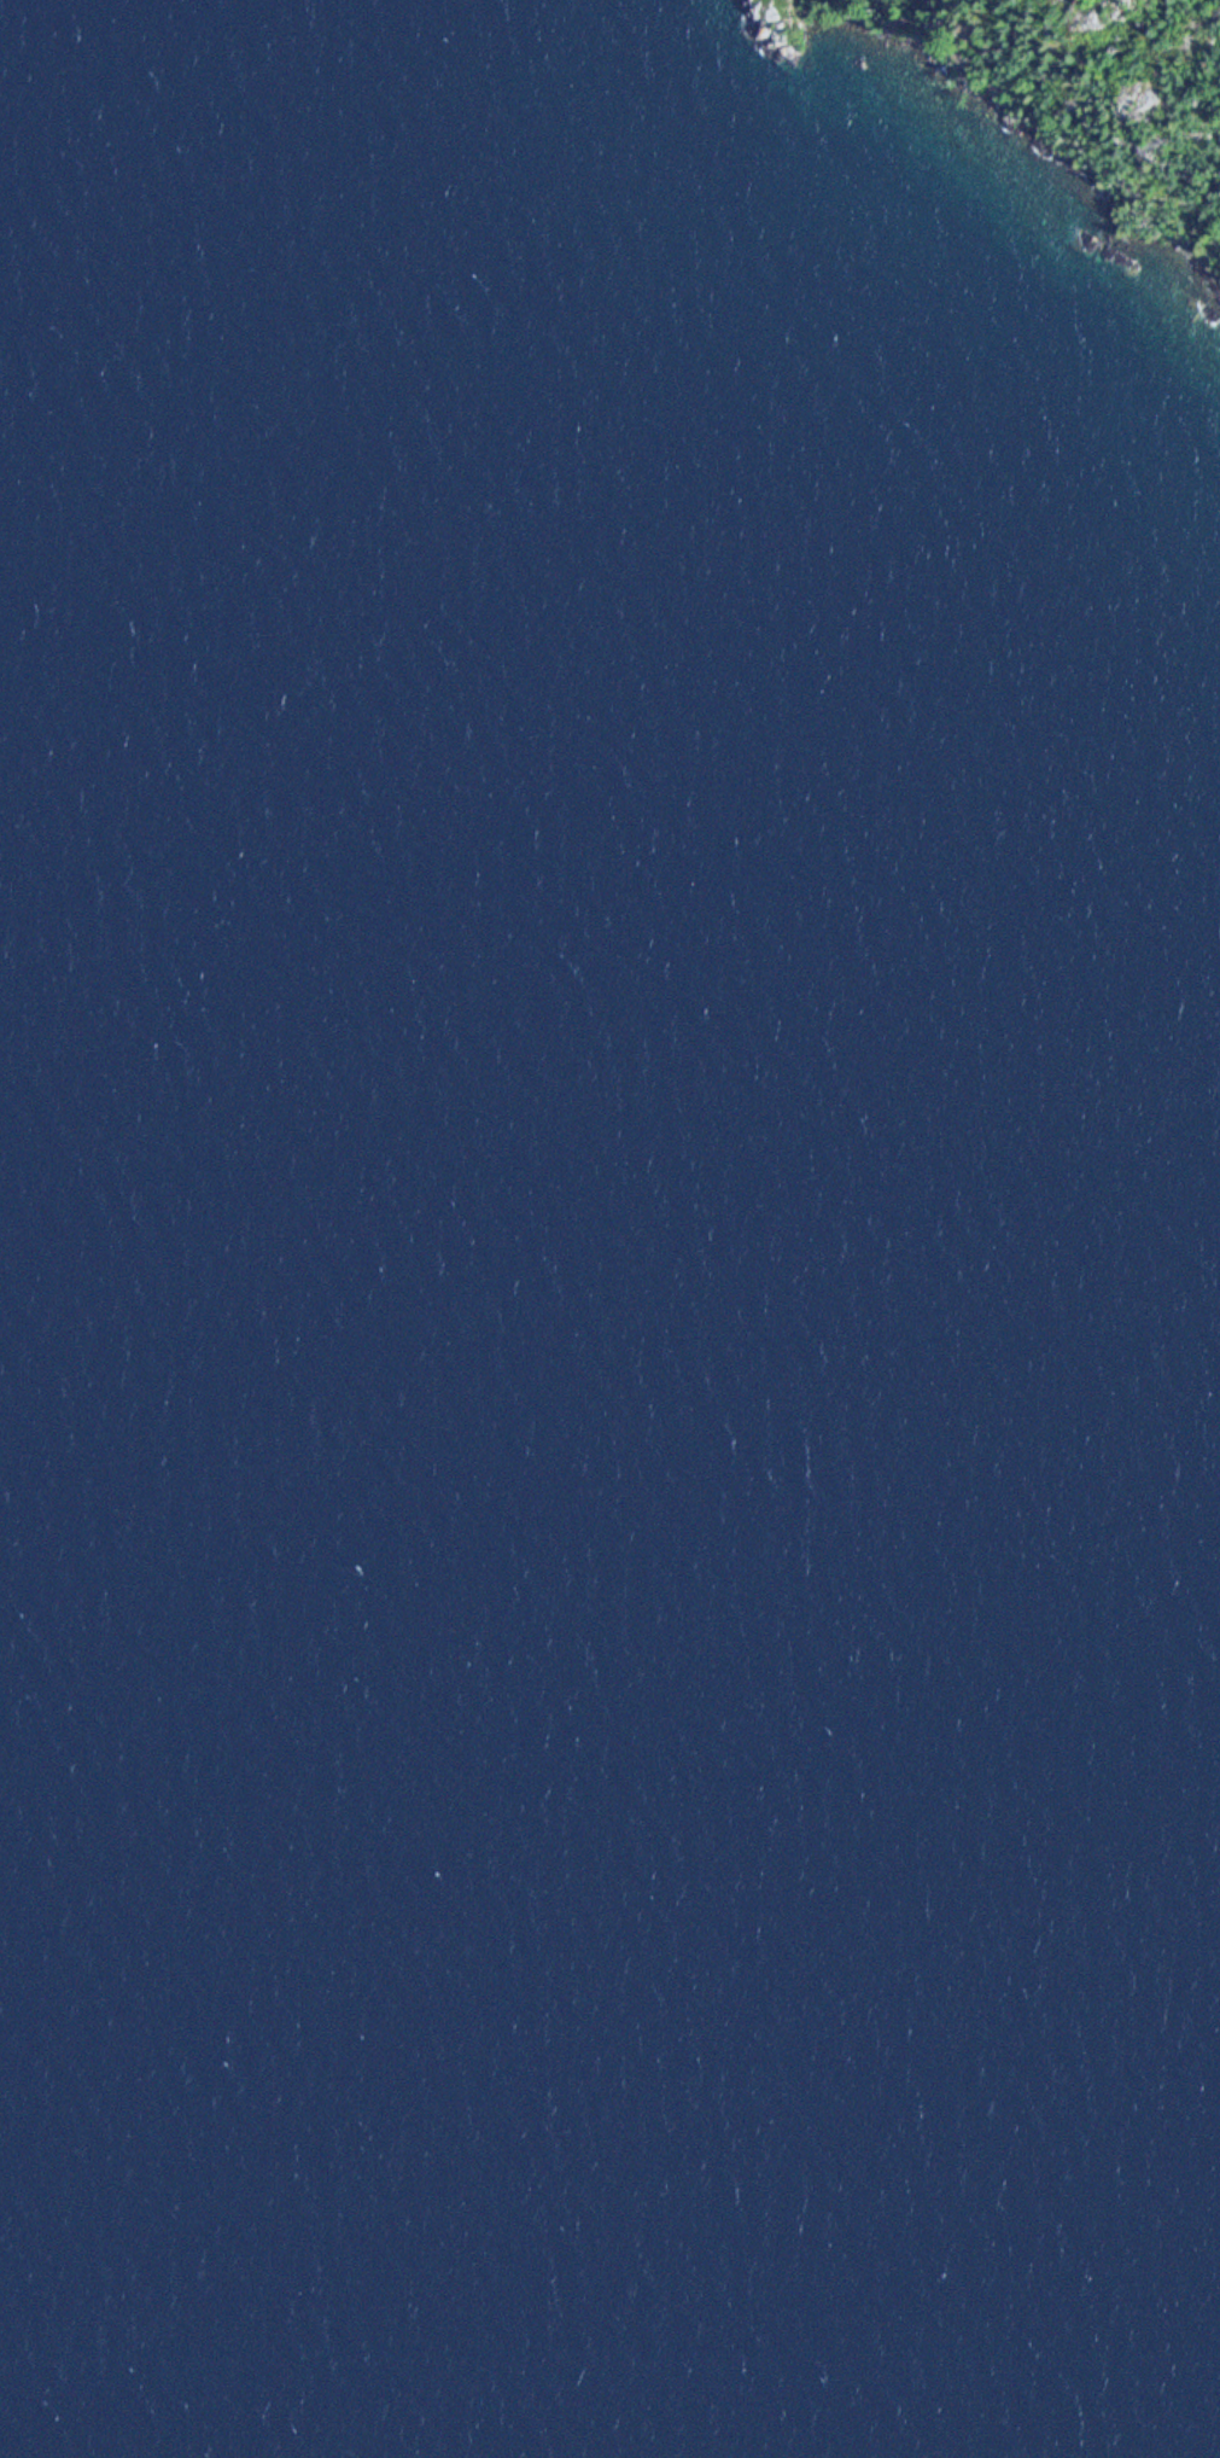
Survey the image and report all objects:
road: (1093, 112)

